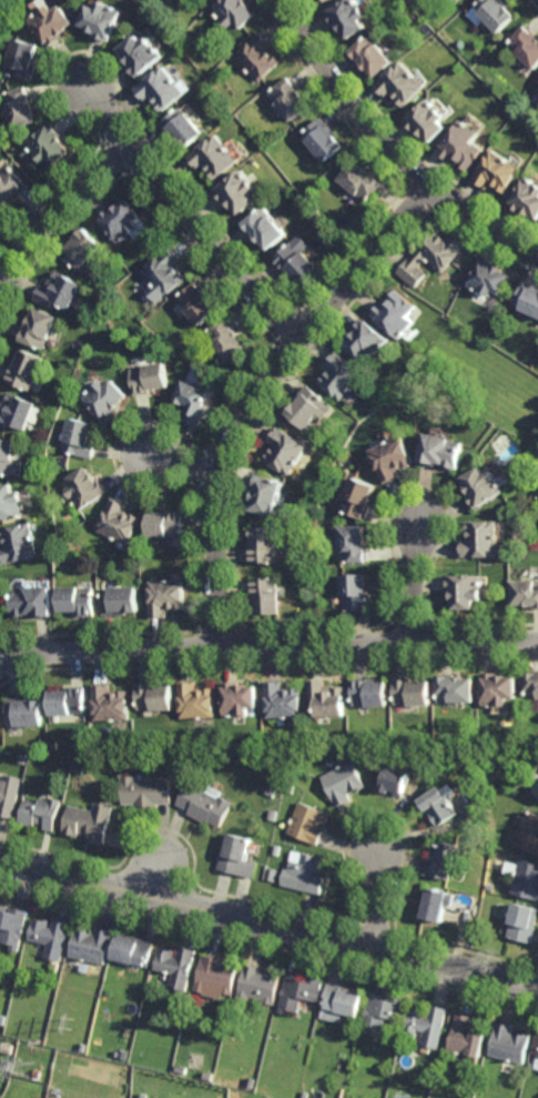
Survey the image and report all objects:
building: (324, 0)
building: (326, 0)
building: (234, 11)
building: (490, 13)
building: (349, 17)
building: (104, 19)
building: (52, 20)
building: (526, 46)
building: (140, 53)
building: (373, 54)
building: (257, 57)
building: (26, 58)
building: (402, 83)
building: (160, 88)
building: (537, 91)
building: (290, 98)
building: (23, 107)
building: (428, 120)
building: (212, 125)
building: (182, 128)
building: (322, 139)
building: (51, 145)
road: (390, 145)
building: (463, 145)
building: (214, 157)
building: (525, 164)
building: (497, 171)
building: (361, 180)
building: (11, 184)
building: (238, 192)
building: (527, 198)
road: (52, 212)
road: (189, 214)
building: (1, 218)
building: (125, 222)
building: (265, 229)
building: (83, 249)
building: (430, 254)
building: (296, 260)
building: (165, 272)
building: (488, 278)
building: (61, 291)
building: (527, 298)
building: (197, 304)
building: (395, 313)
building: (41, 330)
building: (226, 340)
building: (366, 341)
building: (27, 371)
building: (341, 376)
building: (149, 379)
road: (260, 389)
building: (105, 399)
building: (193, 402)
building: (306, 407)
building: (18, 414)
building: (81, 437)
building: (286, 450)
building: (441, 453)
building: (346, 454)
building: (7, 455)
building: (392, 457)
road: (185, 464)
building: (481, 483)
building: (87, 484)
building: (267, 492)
building: (358, 494)
building: (11, 498)
building: (118, 520)
building: (165, 522)
building: (318, 534)
building: (480, 536)
building: (20, 541)
building: (166, 541)
building: (354, 541)
building: (177, 542)
building: (265, 542)
building: (53, 546)
building: (328, 571)
road: (414, 580)
building: (464, 588)
building: (355, 590)
building: (525, 592)
building: (266, 593)
building: (165, 595)
building: (80, 597)
building: (35, 598)
building: (121, 598)
road: (268, 645)
building: (531, 685)
building: (456, 687)
building: (497, 687)
building: (413, 689)
building: (369, 691)
building: (153, 694)
building: (238, 696)
building: (327, 696)
building: (71, 698)
building: (282, 698)
building: (195, 699)
building: (110, 702)
building: (28, 711)
building: (0, 717)
building: (342, 736)
building: (307, 738)
building: (75, 744)
building: (494, 753)
building: (23, 757)
building: (80, 768)
building: (396, 779)
building: (343, 782)
building: (290, 786)
building: (145, 789)
building: (268, 793)
building: (10, 794)
building: (204, 803)
building: (438, 805)
building: (42, 812)
building: (272, 814)
building: (91, 822)
building: (307, 822)
building: (528, 832)
building: (276, 849)
building: (236, 855)
building: (446, 857)
building: (304, 873)
building: (526, 878)
building: (487, 887)
road: (383, 901)
building: (436, 903)
building: (522, 921)
road: (268, 923)
building: (13, 925)
building: (52, 935)
building: (92, 945)
building: (133, 949)
building: (175, 965)
building: (55, 966)
building: (215, 974)
building: (258, 984)
building: (163, 985)
building: (298, 991)
building: (341, 1003)
building: (382, 1010)
building: (108, 1015)
building: (4, 1020)
building: (427, 1023)
power tower: (71, 1024)
building: (465, 1037)
building: (508, 1042)
building: (535, 1044)
building: (337, 1064)
building: (9, 1065)
power tower: (28, 1067)
building: (180, 1068)
building: (40, 1074)
building: (251, 1080)
building: (234, 1095)
building: (303, 1095)
building: (143, 1096)

